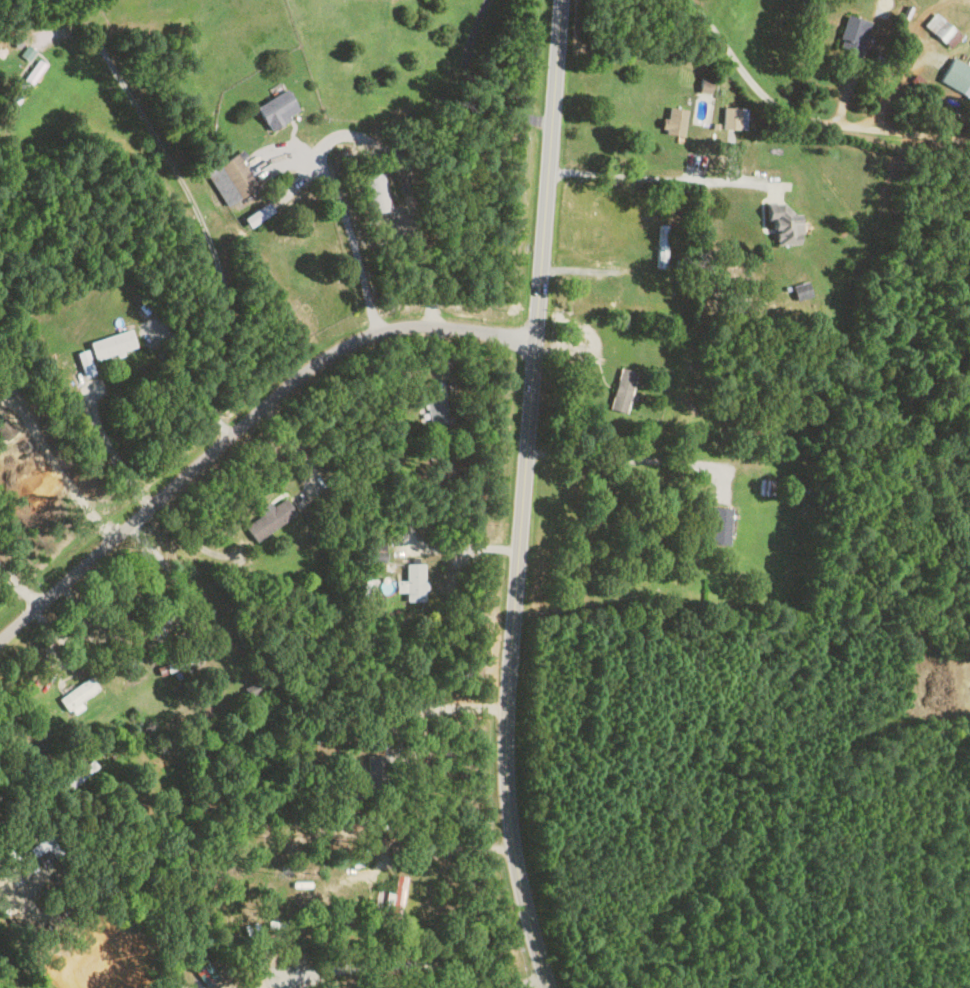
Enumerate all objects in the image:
building: (942, 29)
building: (851, 35)
building: (26, 52)
road: (898, 57)
building: (956, 76)
building: (25, 81)
building: (704, 84)
road: (473, 86)
building: (276, 109)
building: (733, 117)
road: (806, 117)
building: (673, 120)
road: (350, 133)
road: (658, 175)
building: (229, 179)
building: (376, 192)
building: (782, 224)
road: (203, 225)
road: (590, 269)
building: (800, 290)
building: (111, 344)
building: (83, 363)
building: (621, 390)
building: (435, 414)
road: (244, 425)
road: (295, 444)
road: (111, 449)
road: (621, 455)
road: (62, 472)
building: (766, 486)
road: (523, 496)
building: (268, 518)
building: (718, 526)
road: (193, 540)
road: (461, 548)
building: (413, 582)
road: (19, 584)
road: (162, 629)
building: (184, 660)
road: (56, 666)
building: (251, 690)
building: (76, 695)
road: (438, 706)
building: (375, 738)
building: (375, 774)
road: (437, 852)
building: (396, 896)
road: (419, 961)

